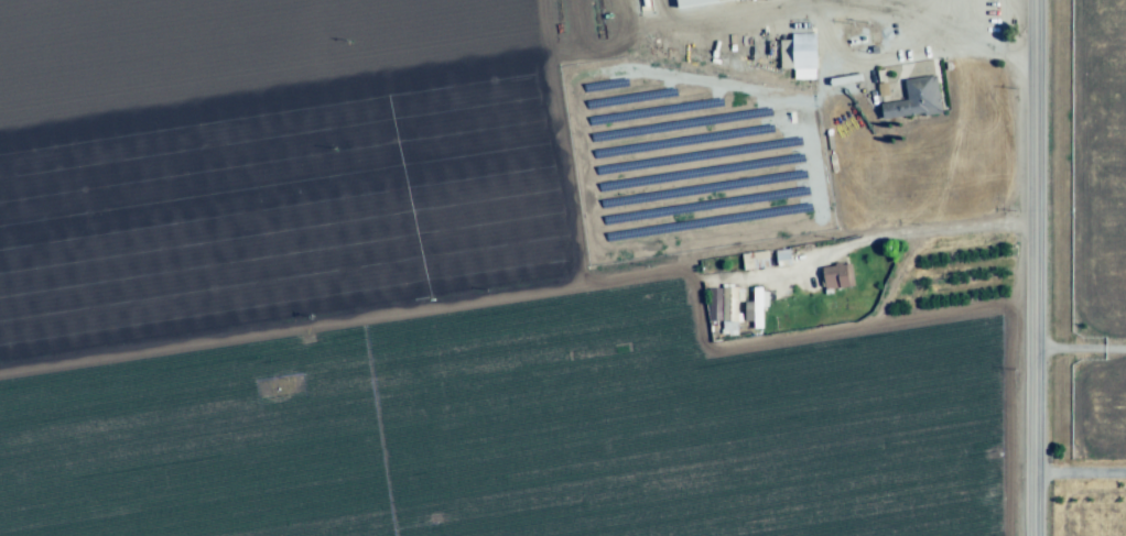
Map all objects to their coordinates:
building: (689, 1)
building: (800, 54)
road: (901, 55)
building: (913, 98)
solar farm: (689, 160)
crop: (1085, 231)
road: (865, 242)
building: (754, 260)
building: (781, 260)
road: (1027, 267)
building: (835, 276)
crop: (436, 295)
building: (728, 308)
building: (757, 309)
road: (1075, 347)
road: (1076, 479)

